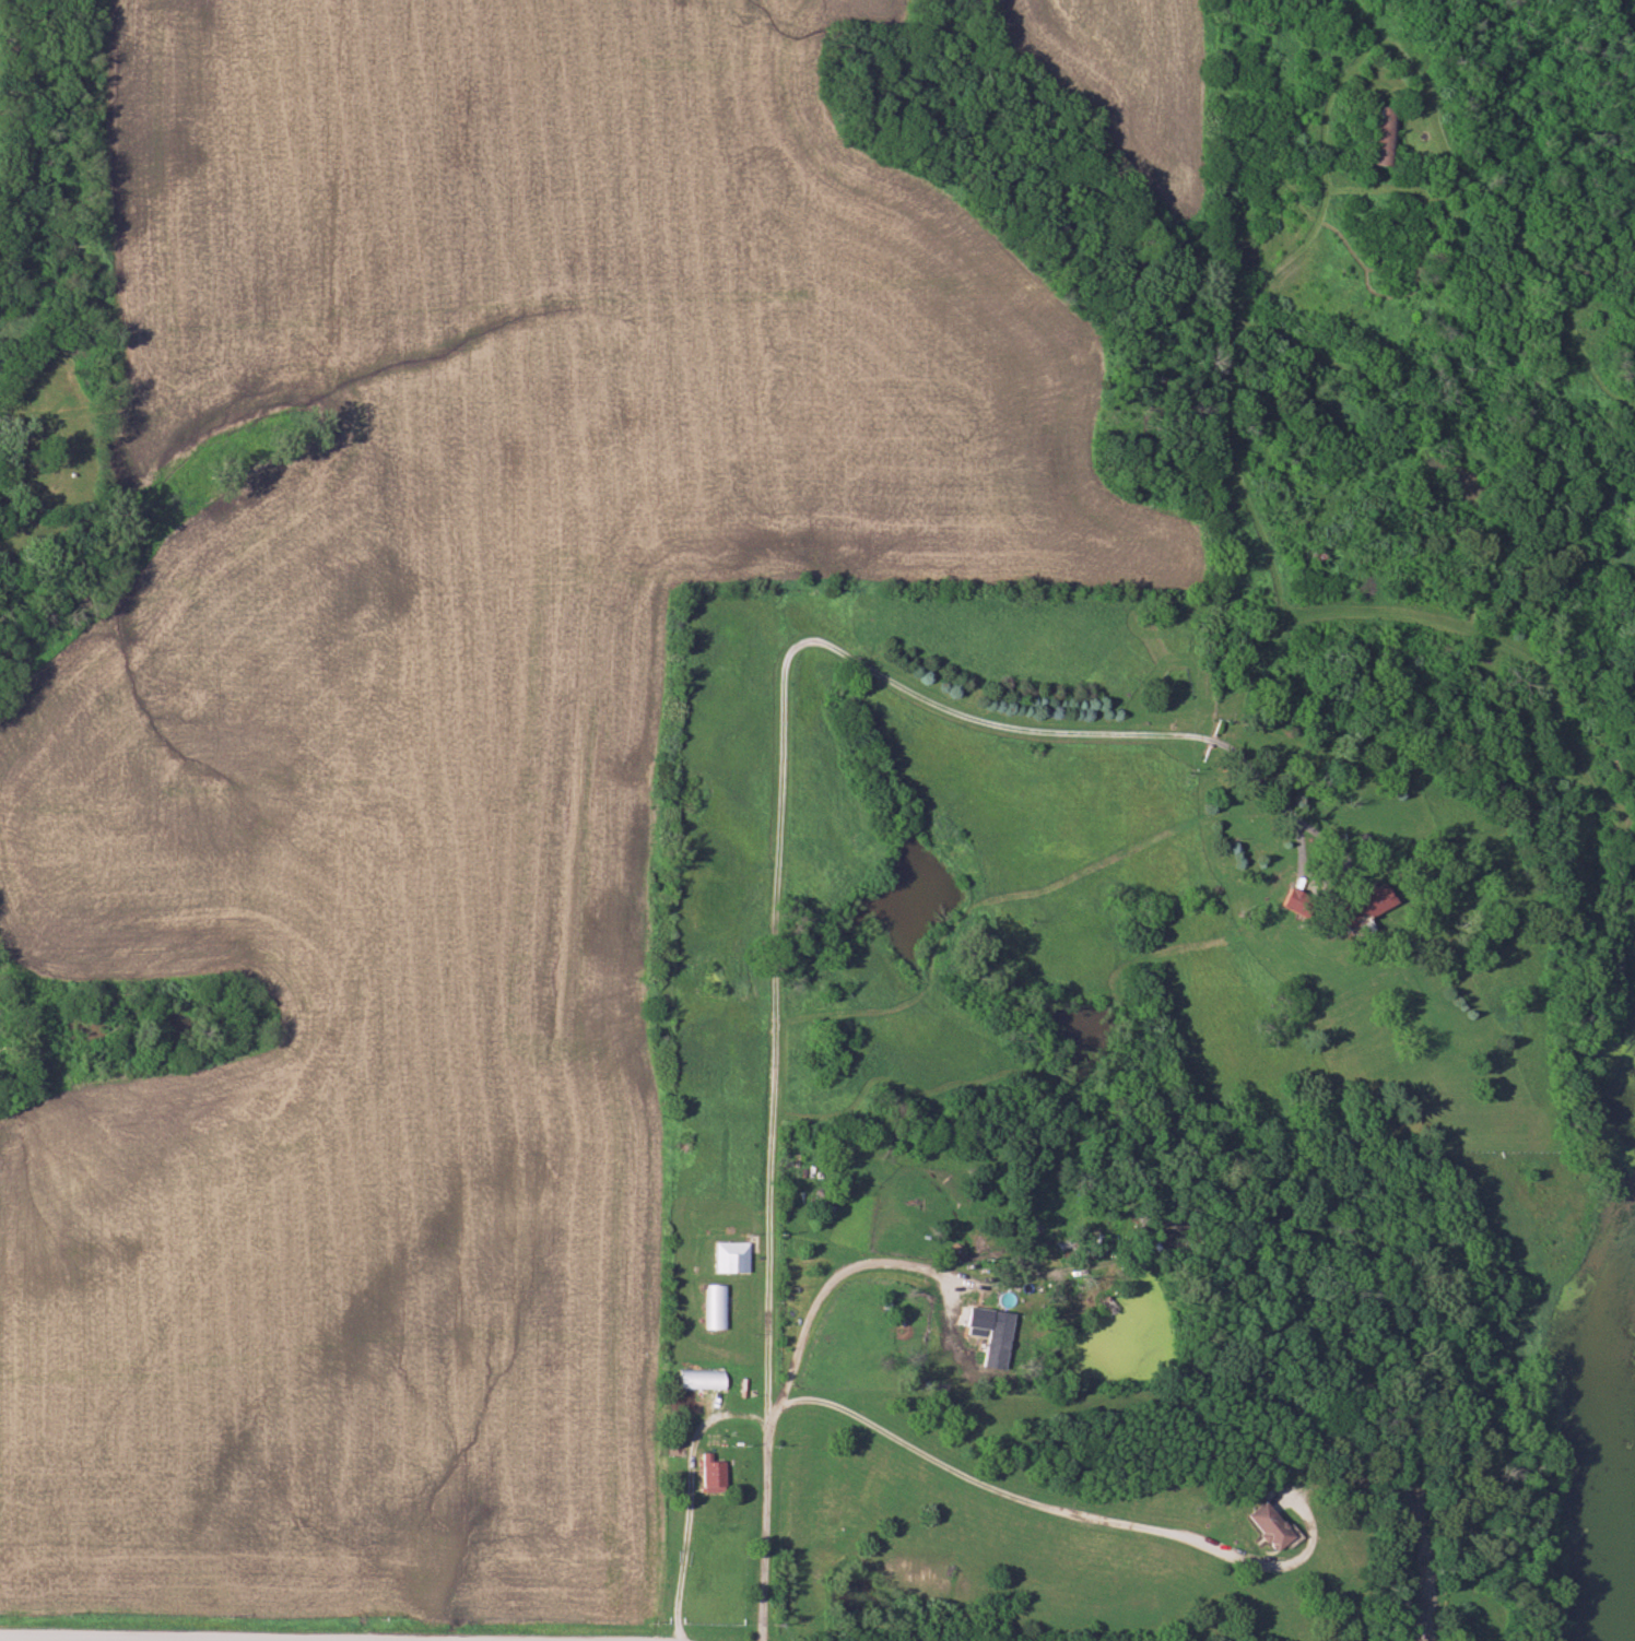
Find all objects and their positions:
building: (1377, 140)
building: (1357, 910)
road: (777, 943)
building: (726, 1258)
road: (831, 1289)
building: (710, 1307)
building: (694, 1379)
building: (703, 1474)
road: (1034, 1507)
building: (1261, 1525)
road: (1412, 1568)
road: (281, 1640)

